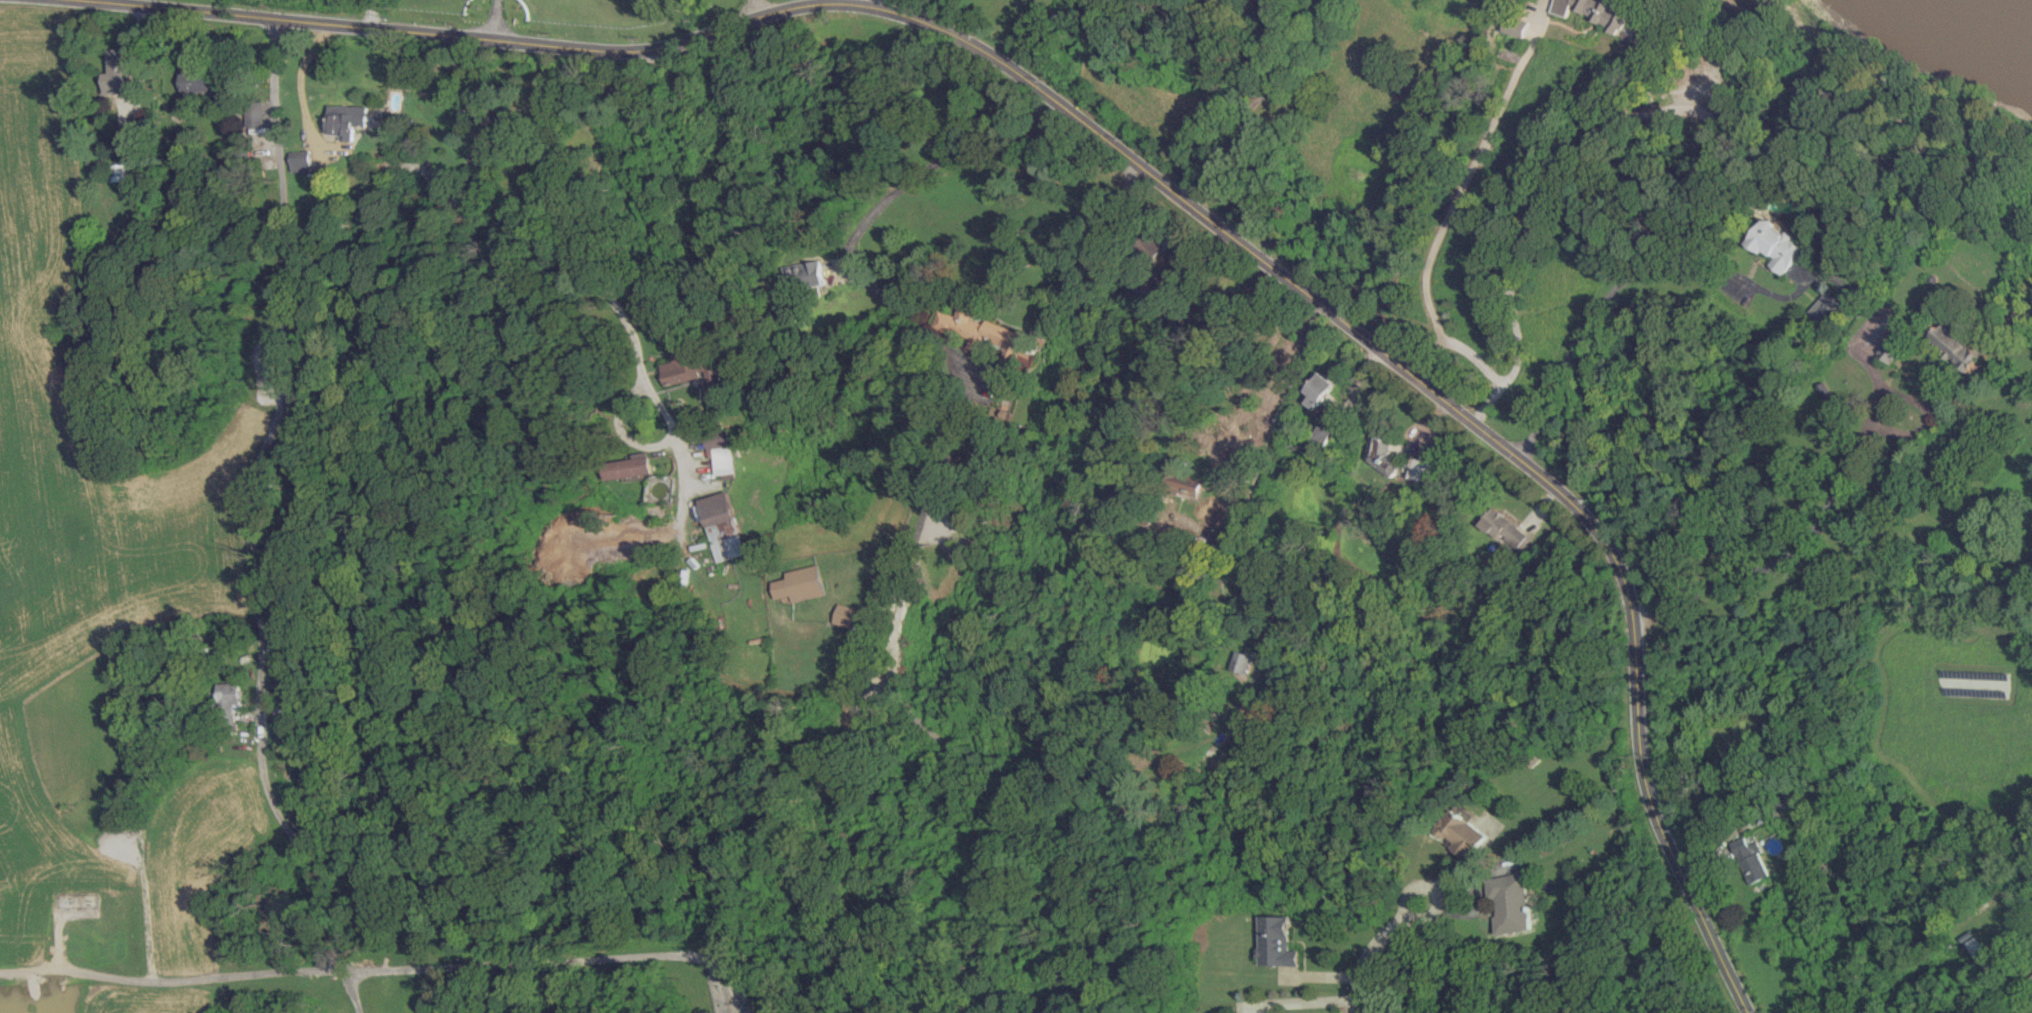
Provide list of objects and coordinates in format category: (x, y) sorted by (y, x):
road: (109, 1)
road: (869, 3)
road: (751, 9)
building: (1597, 11)
road: (945, 13)
road: (493, 19)
road: (322, 22)
building: (1515, 27)
road: (138, 60)
building: (118, 71)
building: (197, 78)
road: (1259, 97)
building: (256, 113)
building: (346, 119)
building: (300, 160)
road: (1460, 190)
building: (1777, 245)
road: (577, 251)
building: (805, 275)
road: (1618, 283)
road: (1323, 305)
building: (1824, 309)
road: (912, 318)
building: (984, 334)
building: (1891, 345)
building: (1953, 346)
building: (680, 365)
road: (281, 378)
building: (1319, 388)
building: (1319, 441)
building: (720, 453)
building: (1380, 453)
building: (629, 466)
building: (1418, 468)
road: (1252, 475)
building: (1182, 481)
building: (721, 525)
building: (1504, 529)
road: (1795, 545)
building: (799, 583)
building: (845, 615)
building: (1242, 661)
building: (230, 700)
building: (1460, 833)
road: (302, 850)
building: (1749, 860)
road: (1431, 891)
petroleum well: (86, 898)
building: (1511, 902)
road: (147, 911)
road: (55, 927)
road: (444, 930)
building: (1275, 941)
building: (1983, 954)
road: (1368, 960)
road: (559, 962)
road: (170, 981)
road: (352, 990)
road: (1307, 1001)

